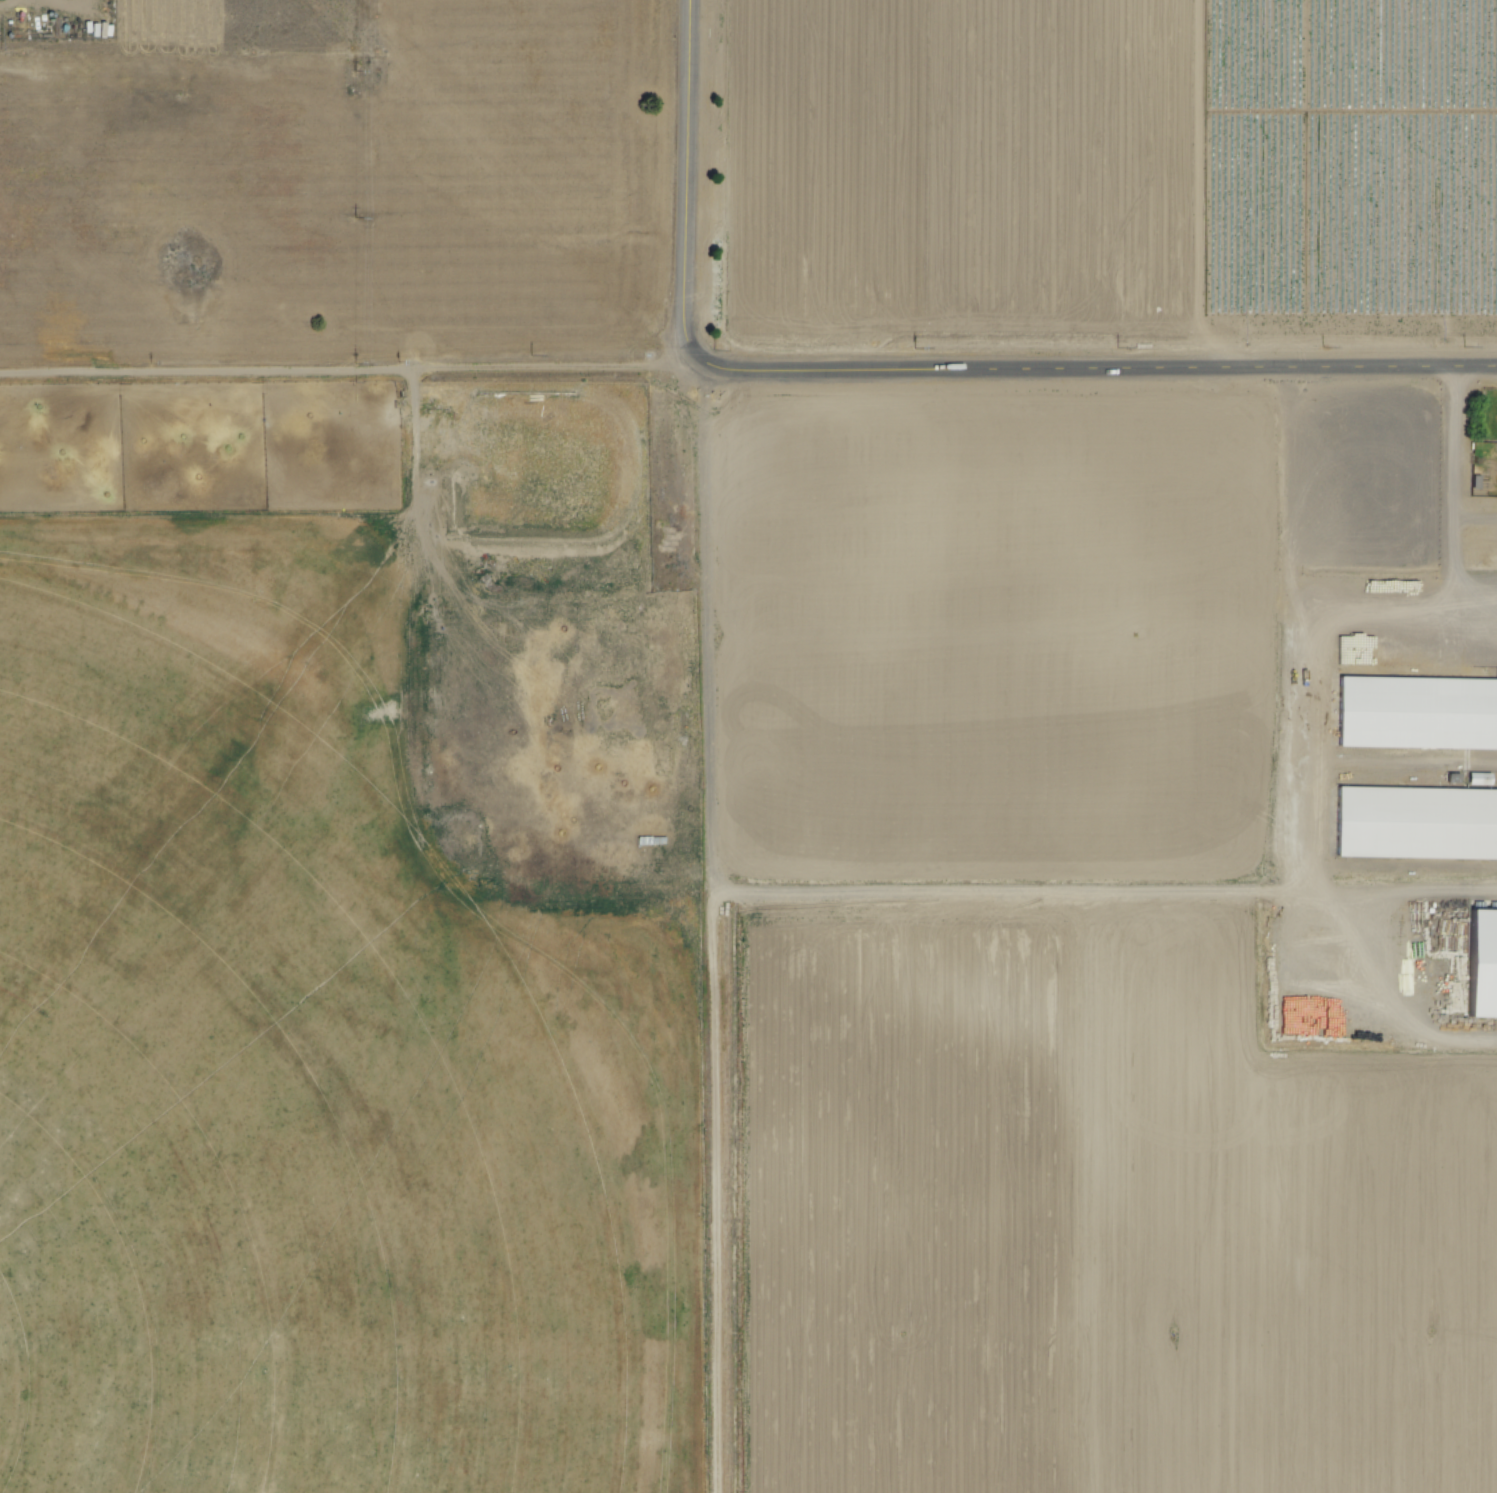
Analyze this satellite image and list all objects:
road: (689, 187)
road: (1094, 372)
road: (345, 376)
road: (1455, 461)
building: (1418, 712)
building: (1413, 822)
building: (1481, 964)

